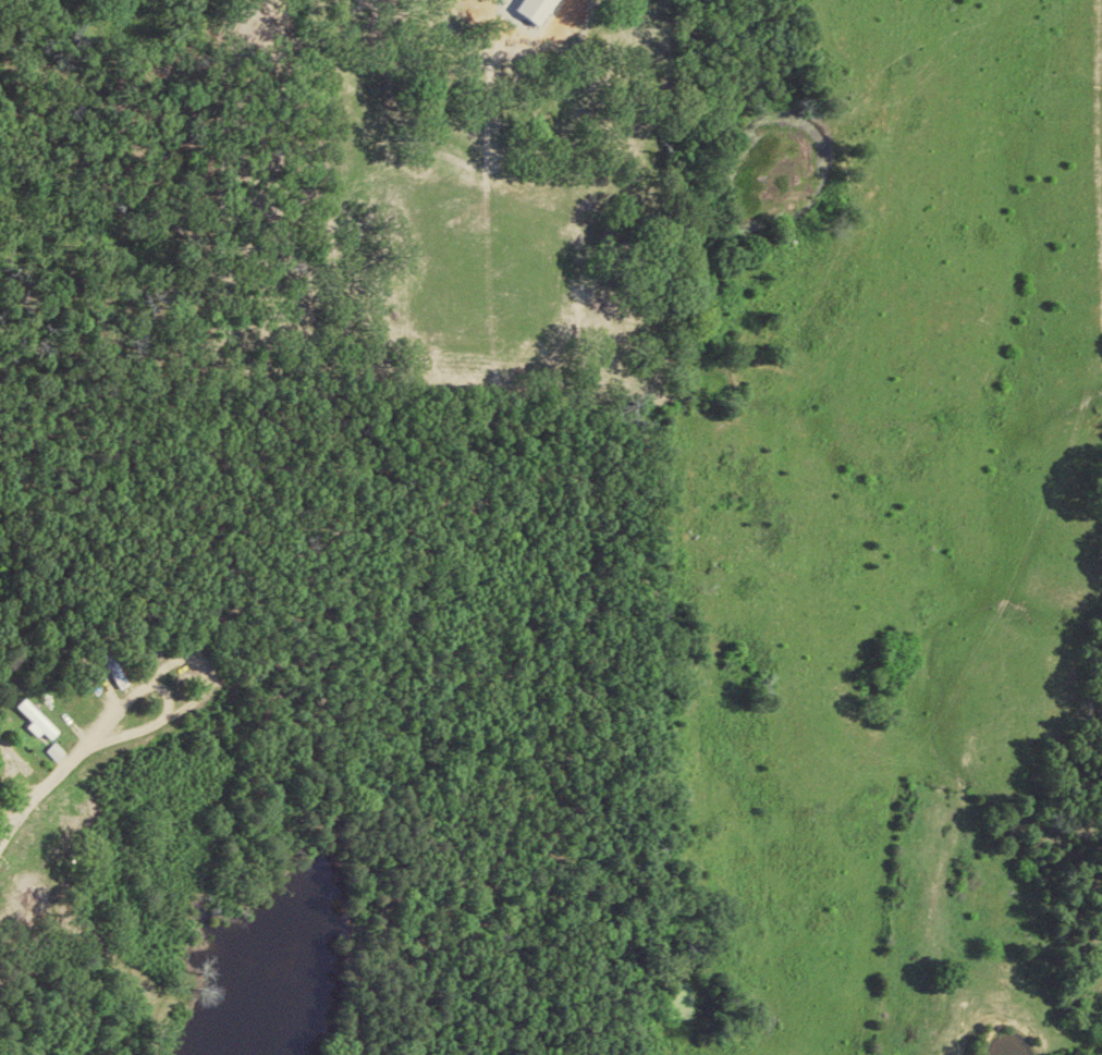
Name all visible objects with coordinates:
building: (538, 9)
building: (39, 719)
road: (124, 735)
building: (58, 750)
building: (16, 757)
road: (37, 790)

